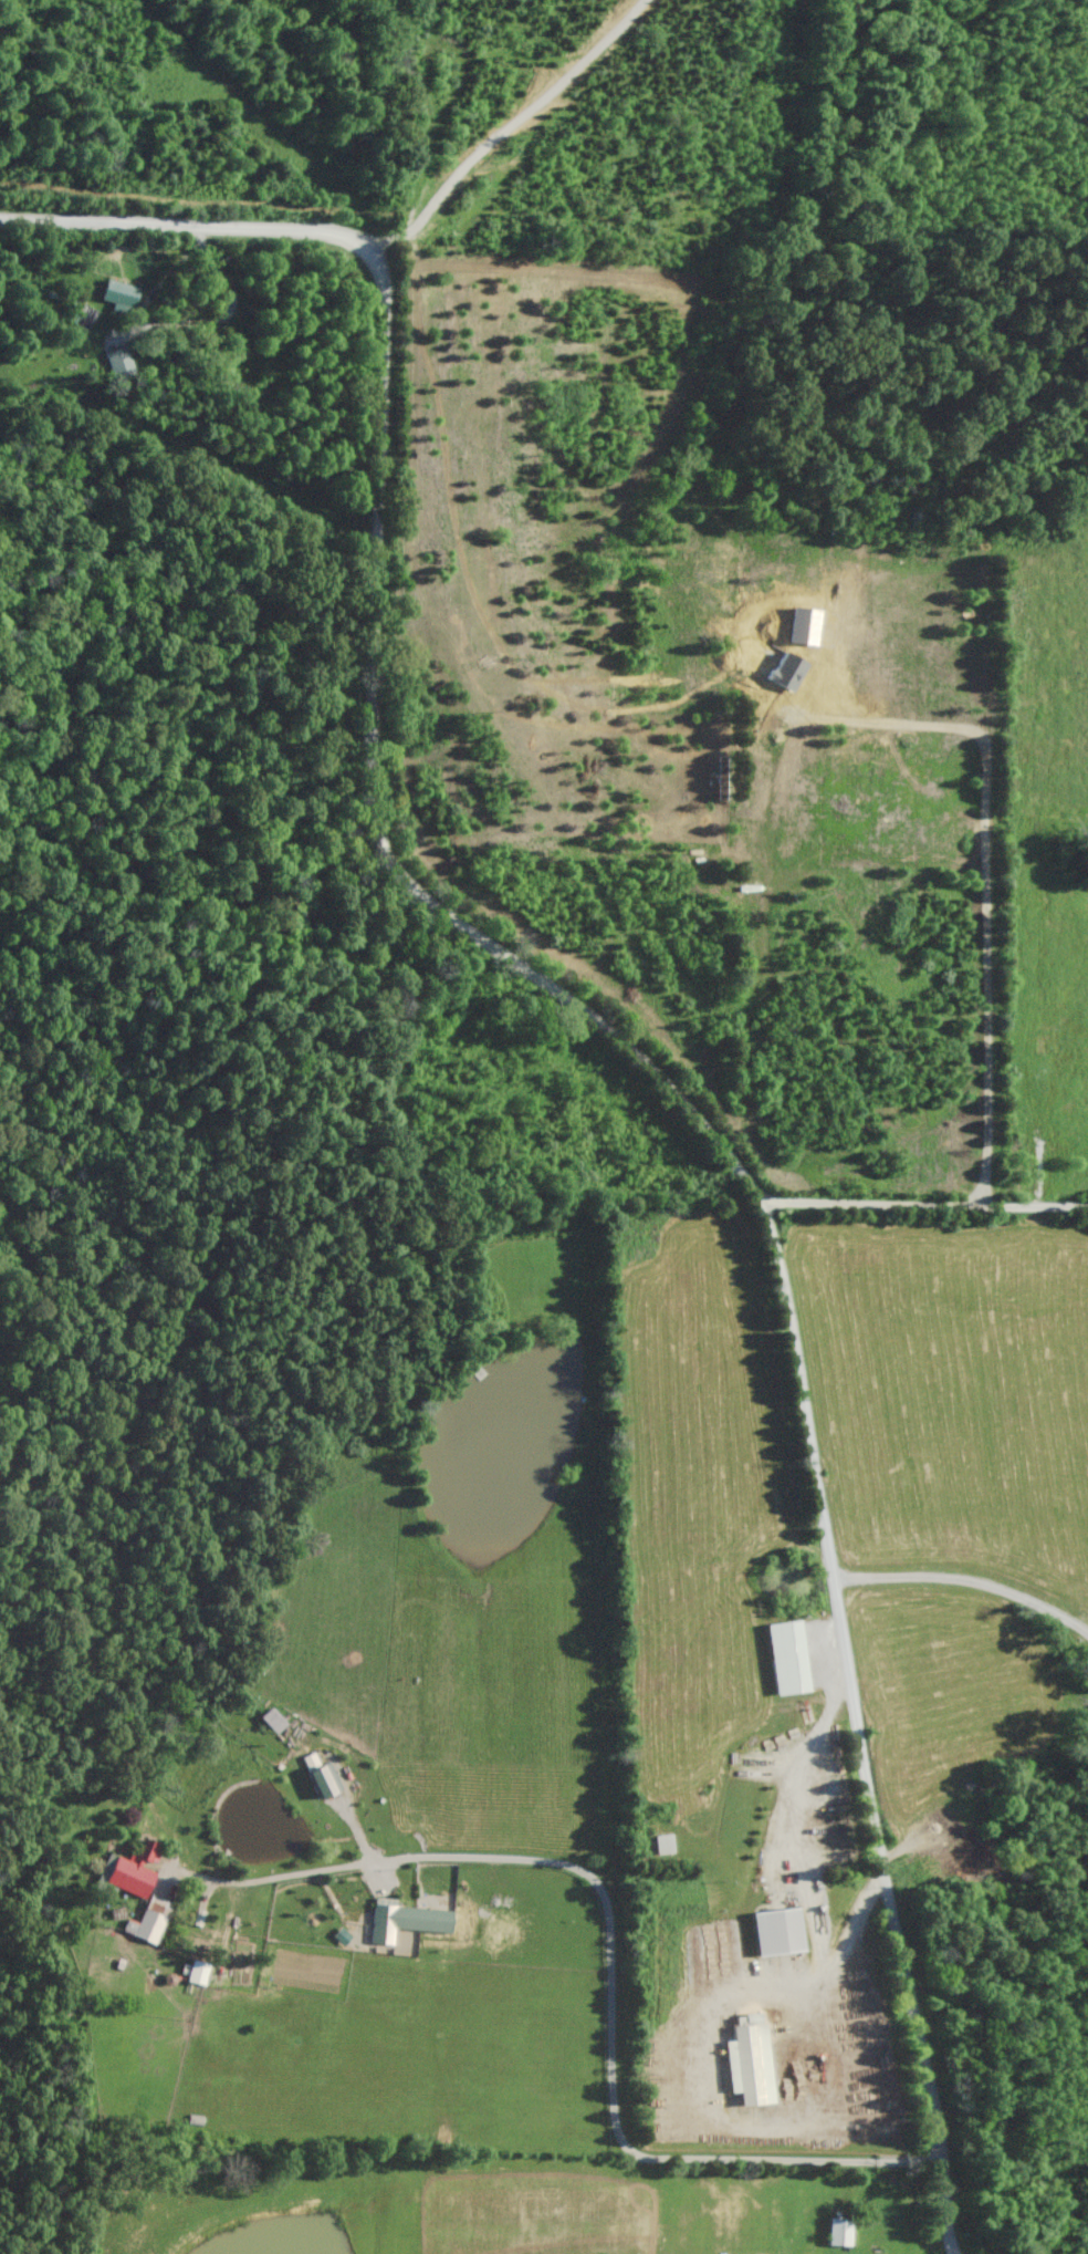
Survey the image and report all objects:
building: (121, 293)
building: (79, 319)
building: (119, 365)
road: (614, 1056)
road: (917, 1201)
road: (966, 1581)
building: (324, 1782)
building: (663, 1846)
building: (124, 1878)
building: (153, 1920)
building: (781, 1932)
building: (704, 1952)
road: (611, 1967)
building: (198, 1973)
building: (749, 2063)
building: (839, 2233)

